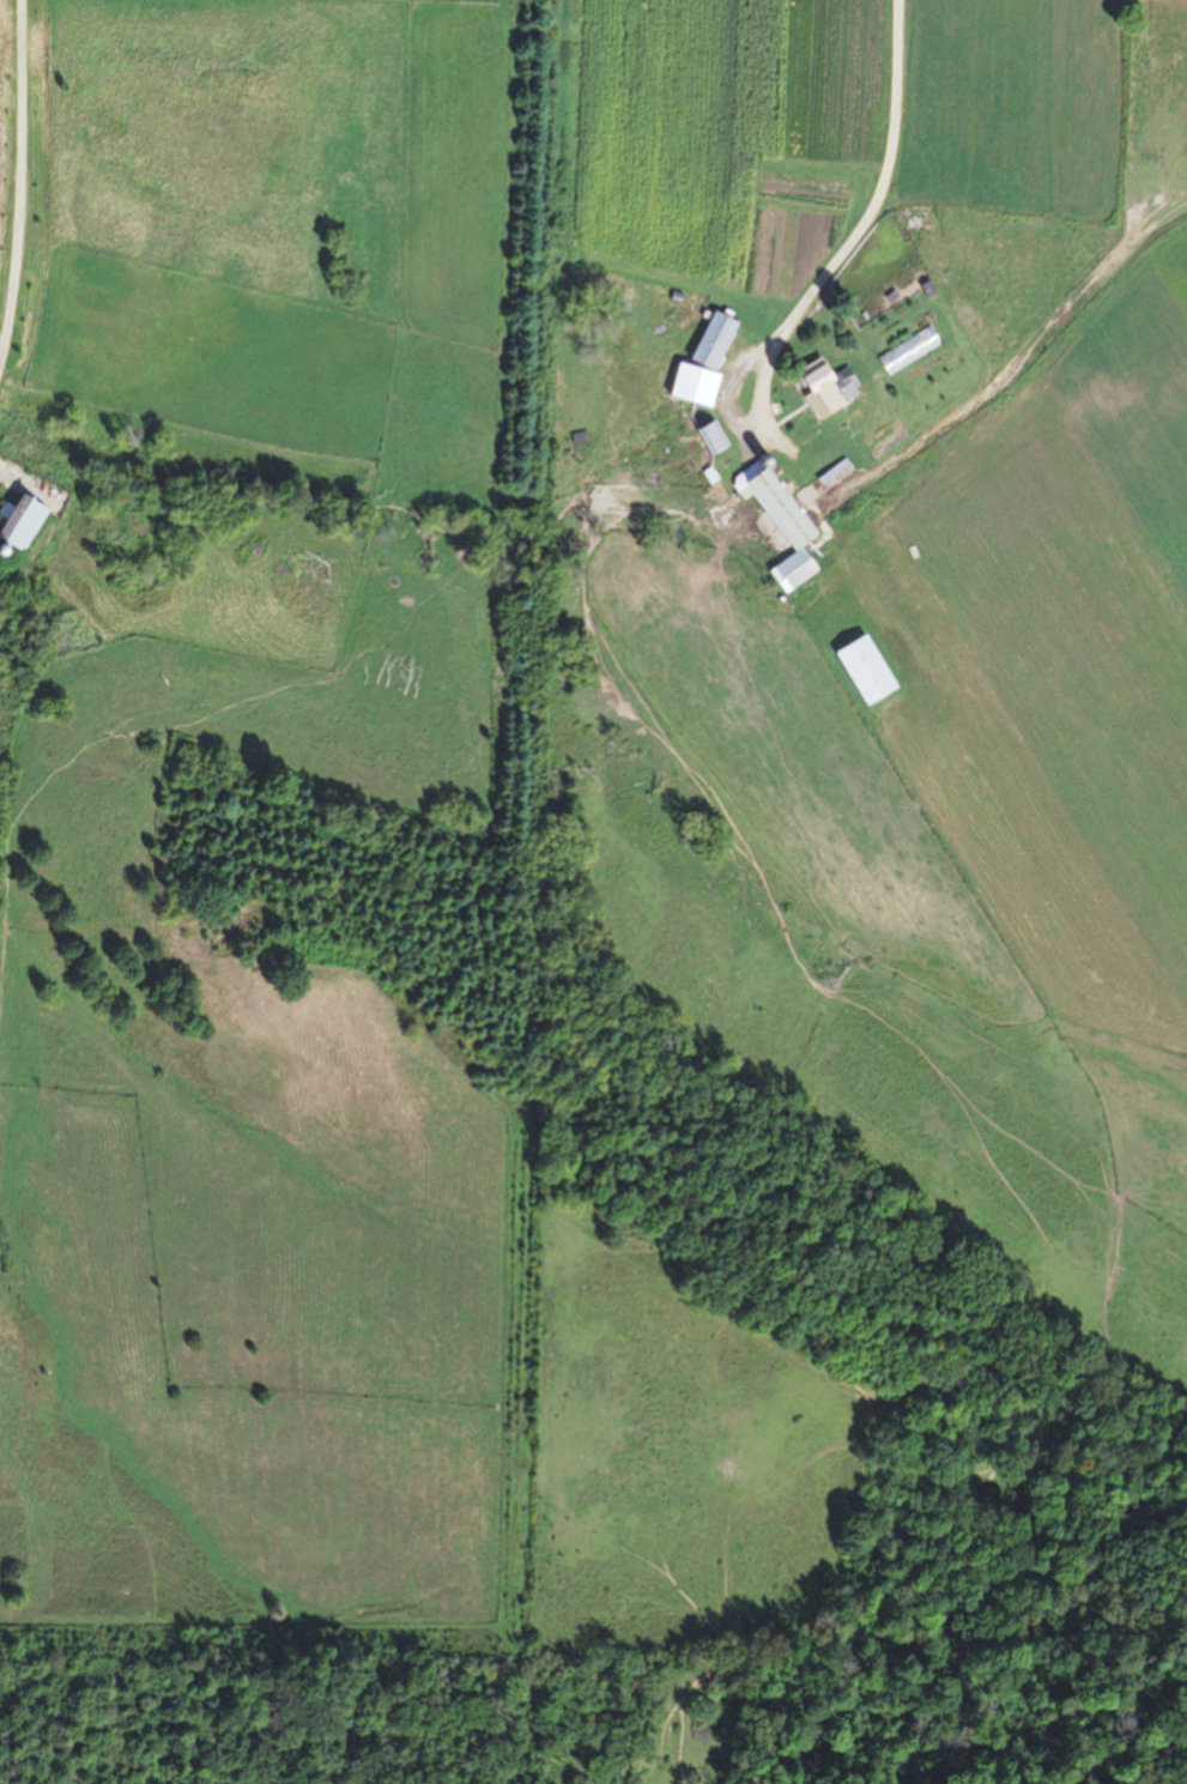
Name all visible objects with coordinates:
road: (23, 182)
road: (861, 228)
building: (709, 340)
building: (737, 388)
building: (824, 388)
building: (709, 435)
building: (780, 522)
building: (17, 525)

